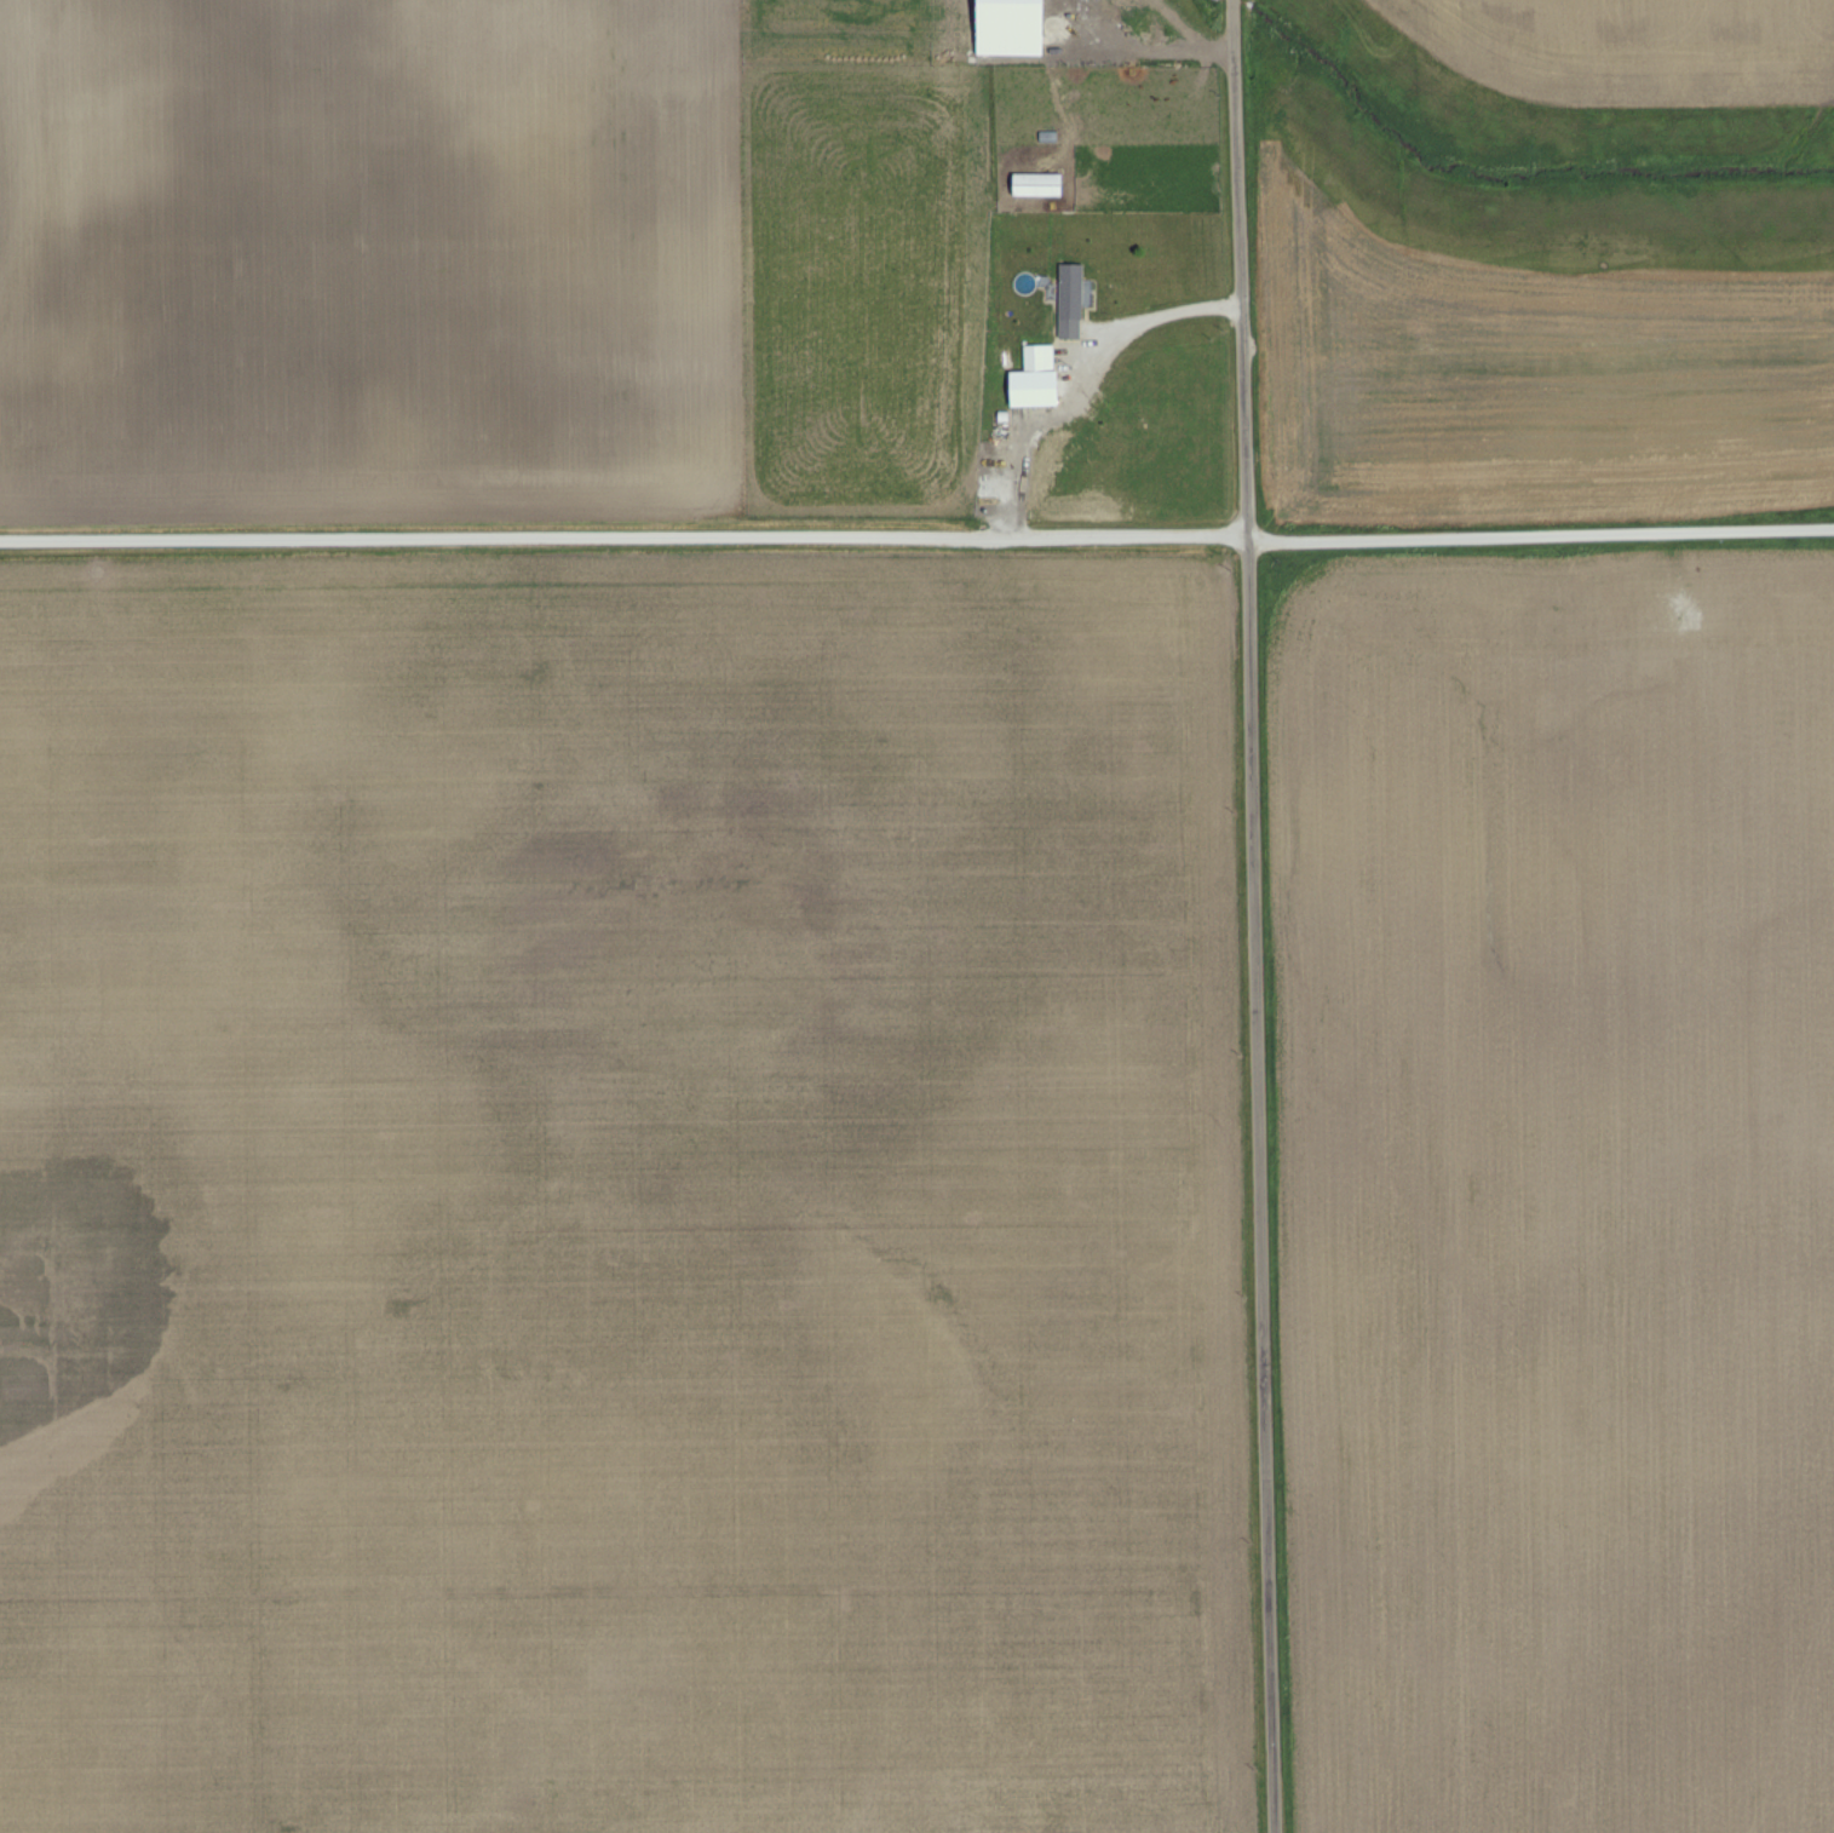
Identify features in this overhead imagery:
crop: (1634, 48)
building: (1039, 188)
crop: (370, 262)
building: (1073, 304)
crop: (1527, 378)
building: (1037, 381)
road: (1542, 535)
road: (626, 542)
road: (1257, 915)
crop: (1559, 1190)
crop: (622, 1197)

